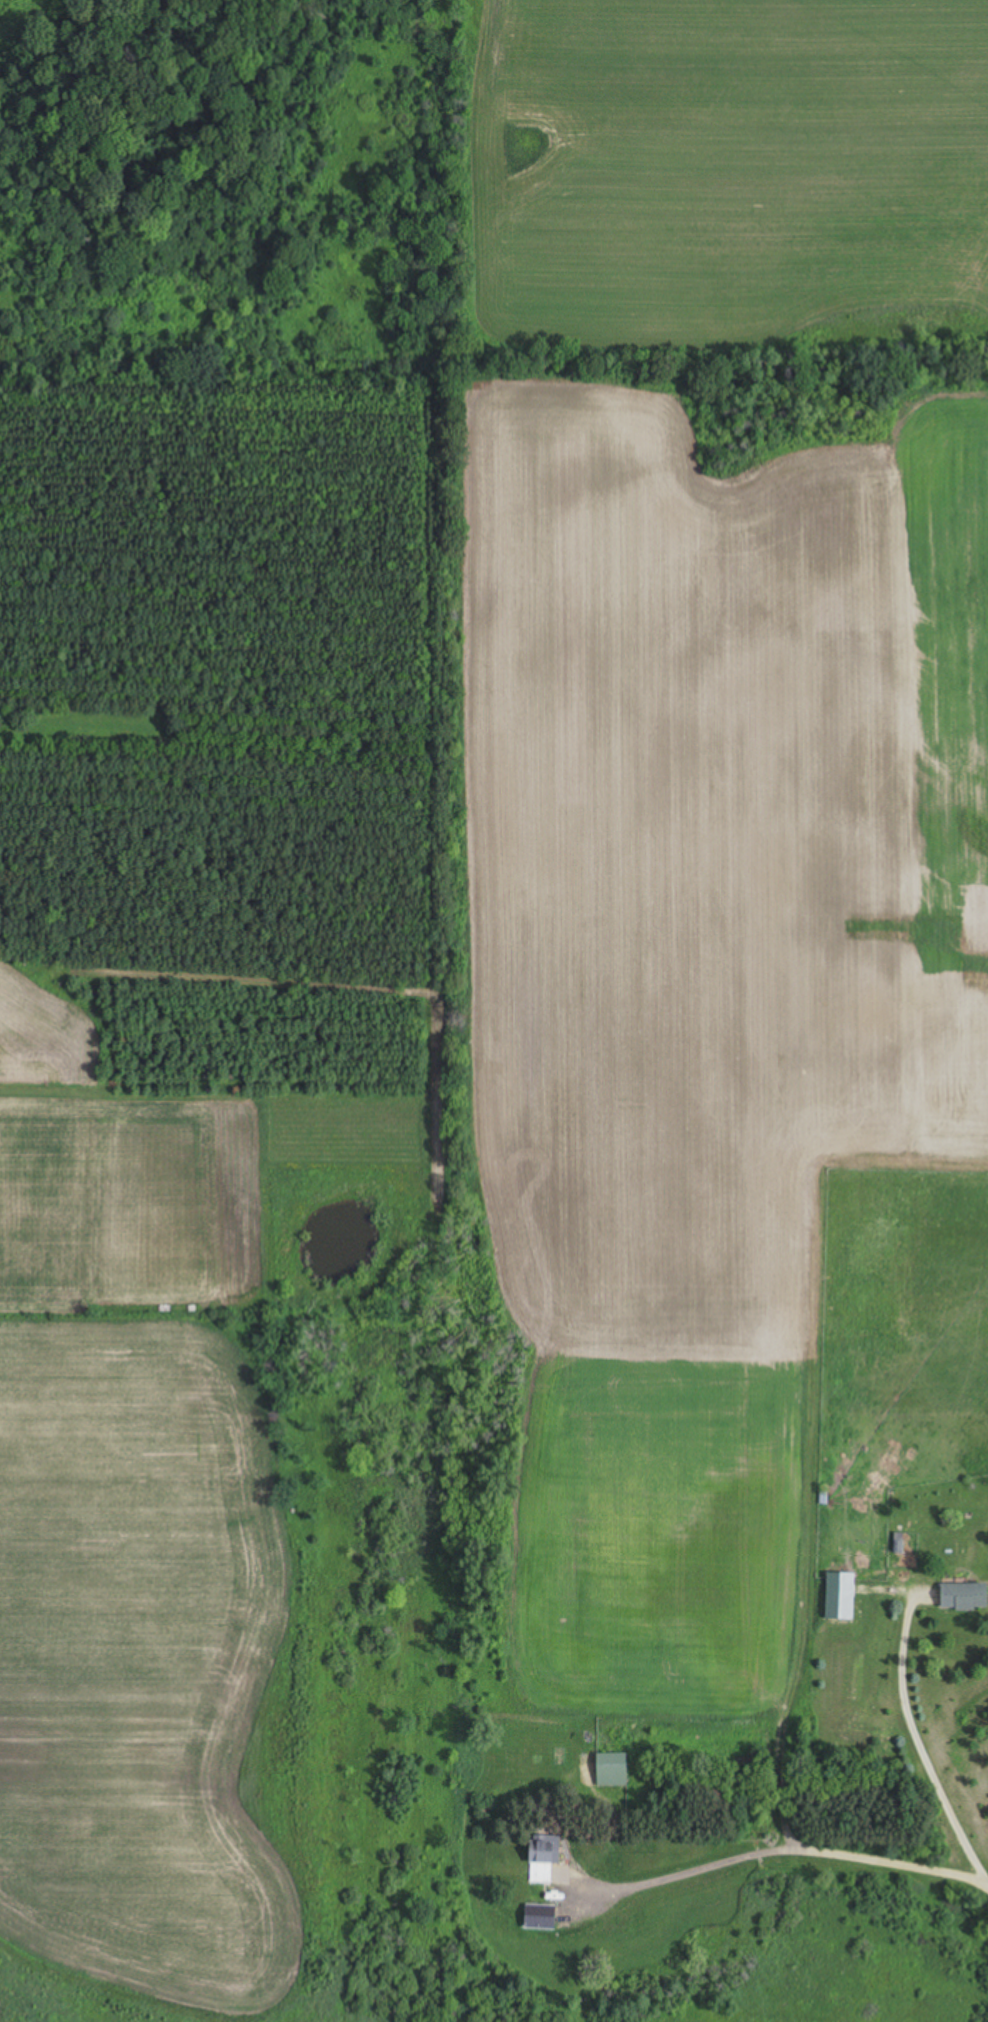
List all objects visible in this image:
building: (962, 1595)
road: (919, 1747)
building: (610, 1769)
road: (782, 1851)
building: (540, 1859)
building: (539, 1918)

